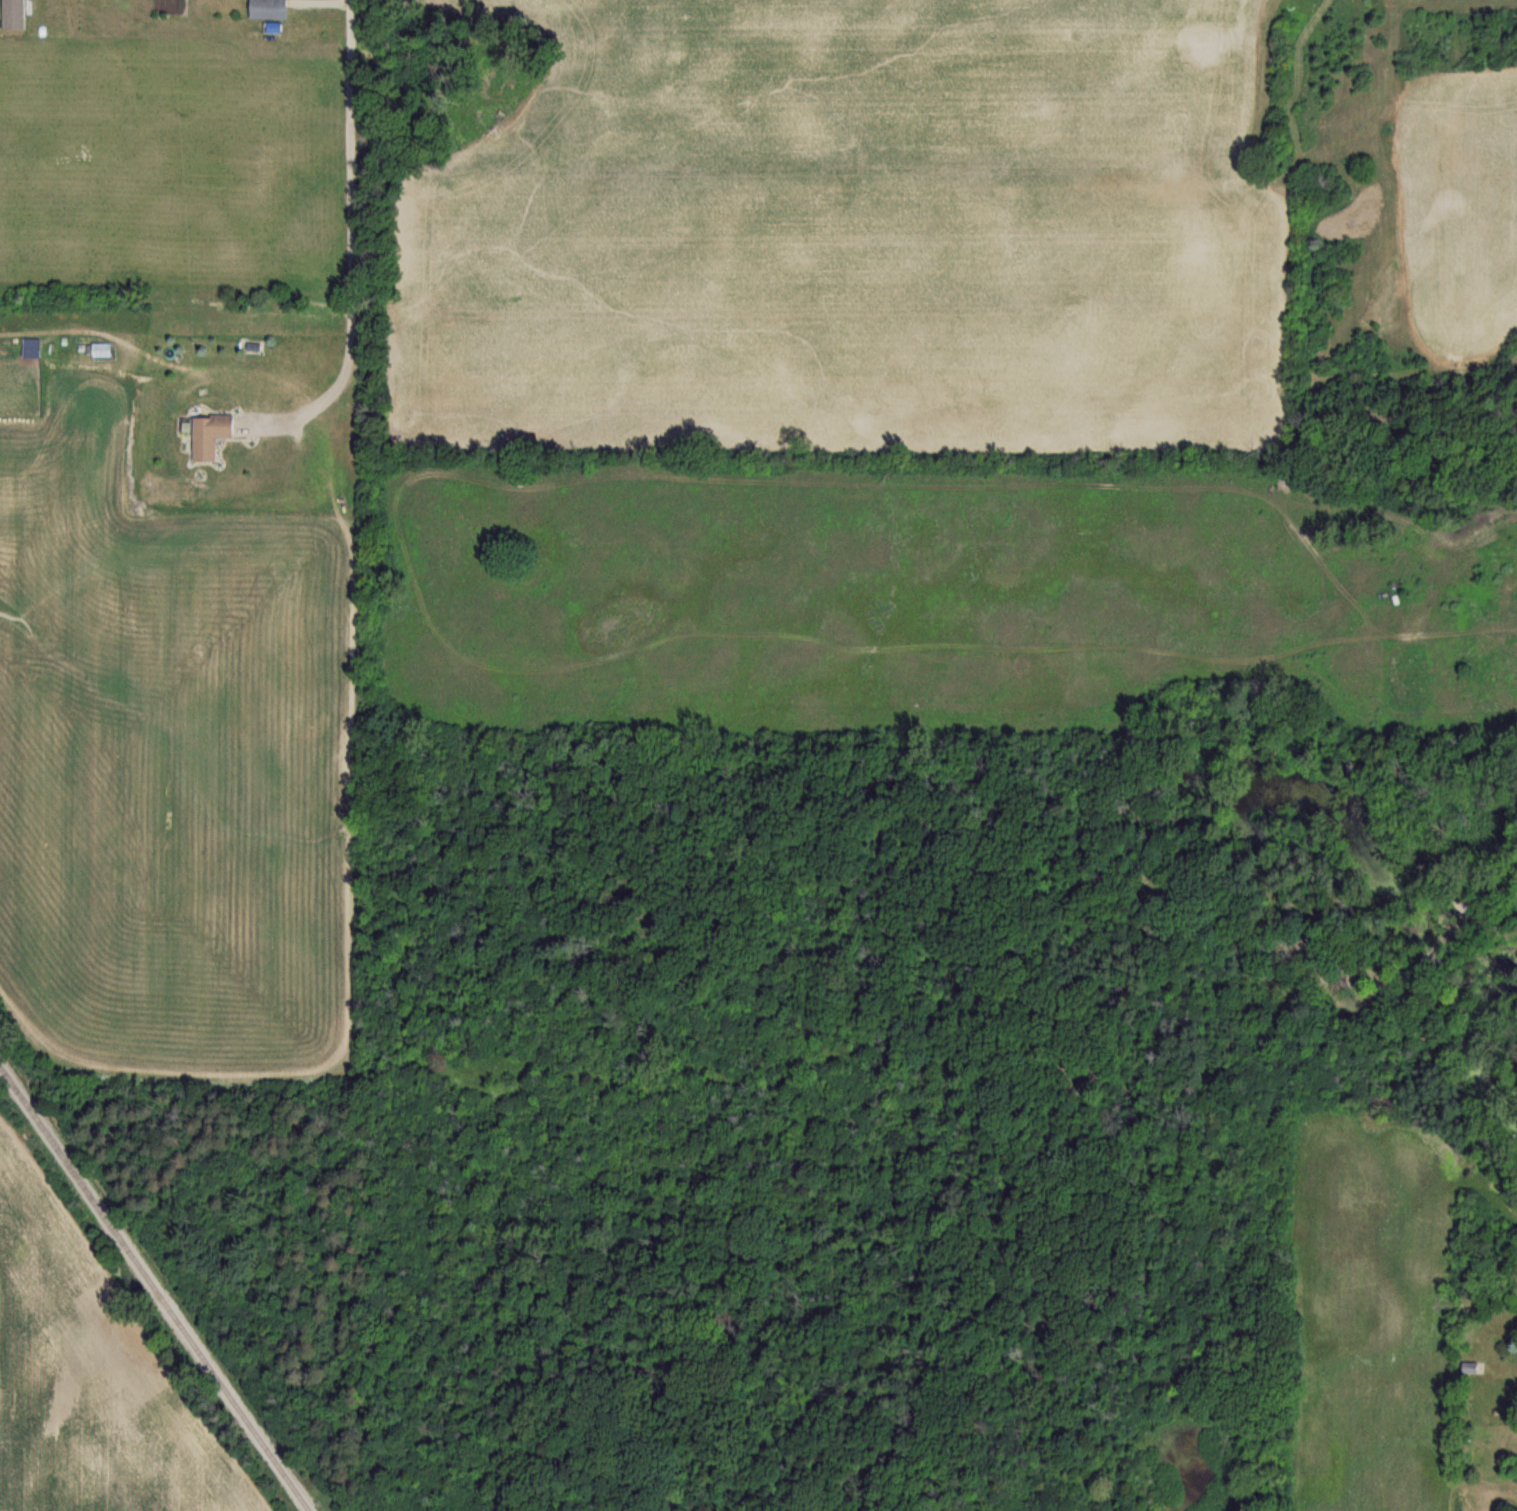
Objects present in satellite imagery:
building: (266, 9)
building: (11, 14)
road: (352, 242)
building: (207, 433)
railway: (155, 1287)

